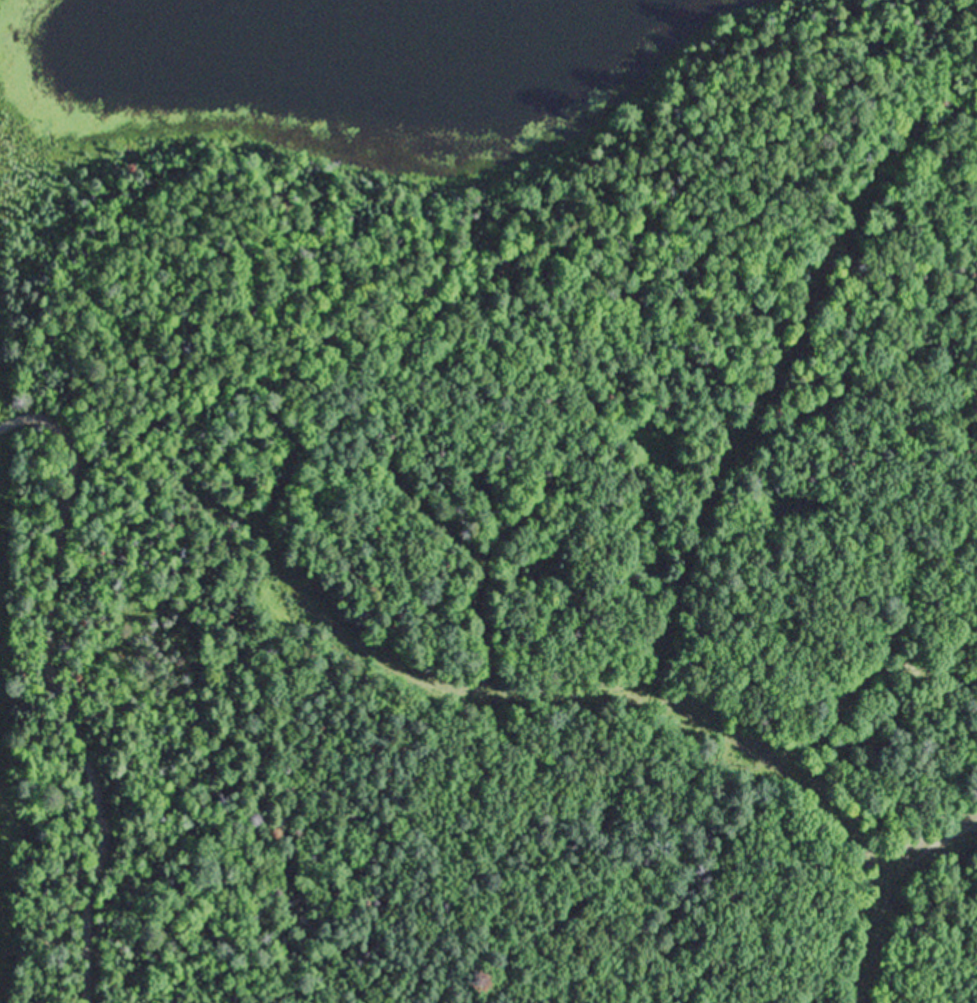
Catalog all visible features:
road: (757, 417)
road: (58, 690)
road: (601, 694)
road: (885, 888)

